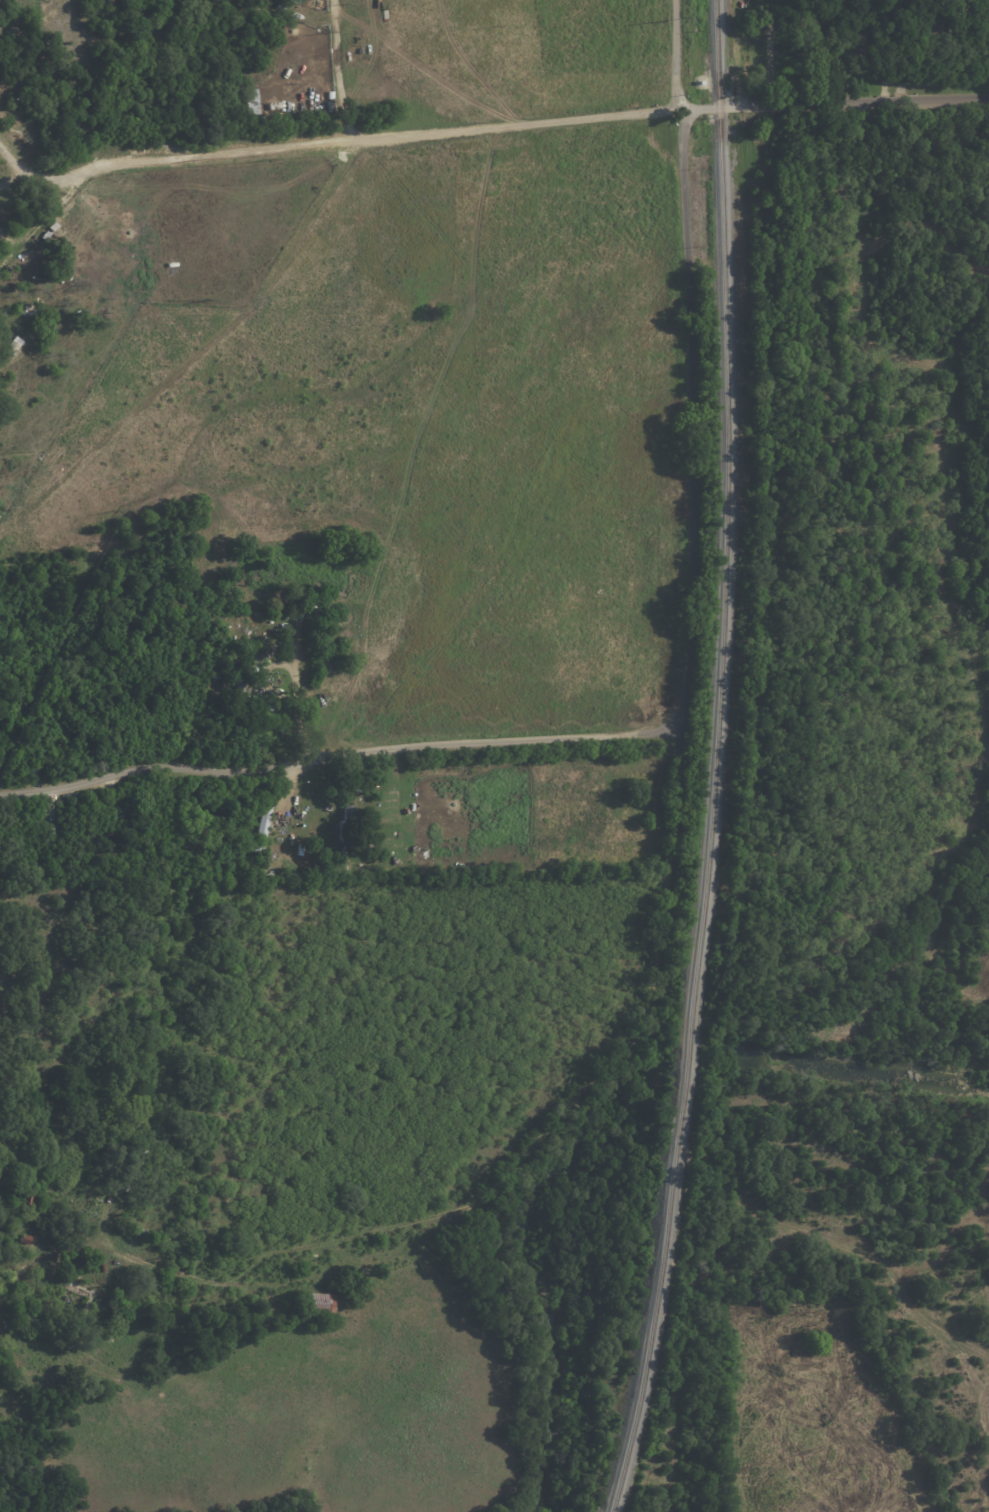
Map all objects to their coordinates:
building: (297, 1)
building: (858, 9)
building: (799, 17)
building: (982, 18)
building: (923, 26)
building: (847, 38)
road: (677, 54)
road: (340, 69)
building: (251, 101)
road: (837, 103)
building: (22, 128)
road: (331, 138)
building: (241, 681)
road: (644, 731)
railway: (713, 759)
building: (349, 827)
building: (262, 830)
building: (117, 840)
building: (351, 858)
road: (527, 1146)
building: (130, 1168)
building: (33, 1198)
building: (23, 1239)
building: (323, 1302)
building: (119, 1305)

